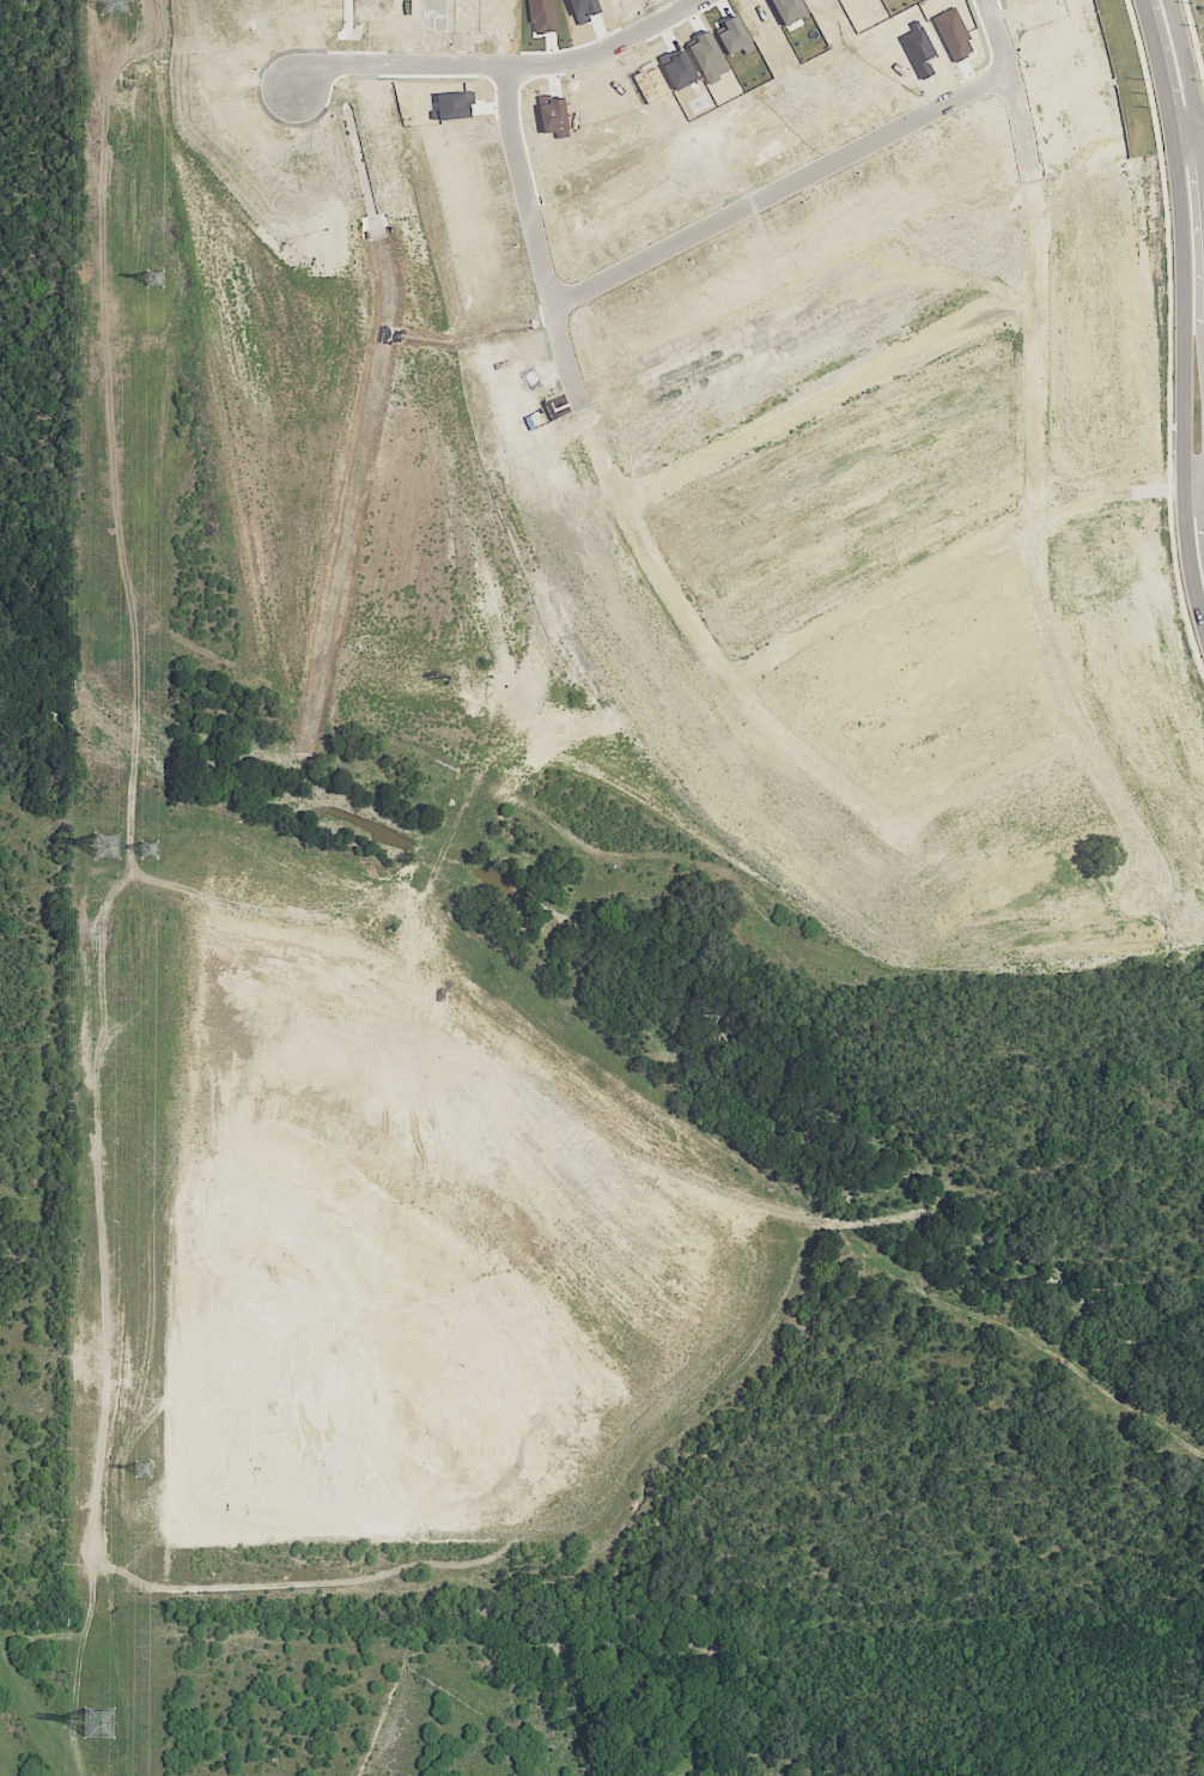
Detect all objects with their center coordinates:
road: (1007, 36)
road: (1193, 42)
road: (507, 66)
road: (1190, 86)
road: (1188, 133)
road: (528, 186)
road: (785, 188)
power tower: (157, 280)
road: (1181, 314)
road: (1168, 339)
road: (827, 389)
road: (1193, 486)
road: (1040, 490)
road: (949, 562)
road: (677, 595)
road: (987, 776)
power tower: (111, 844)
power tower: (150, 849)
power tower: (144, 1469)
power tower: (103, 1722)

